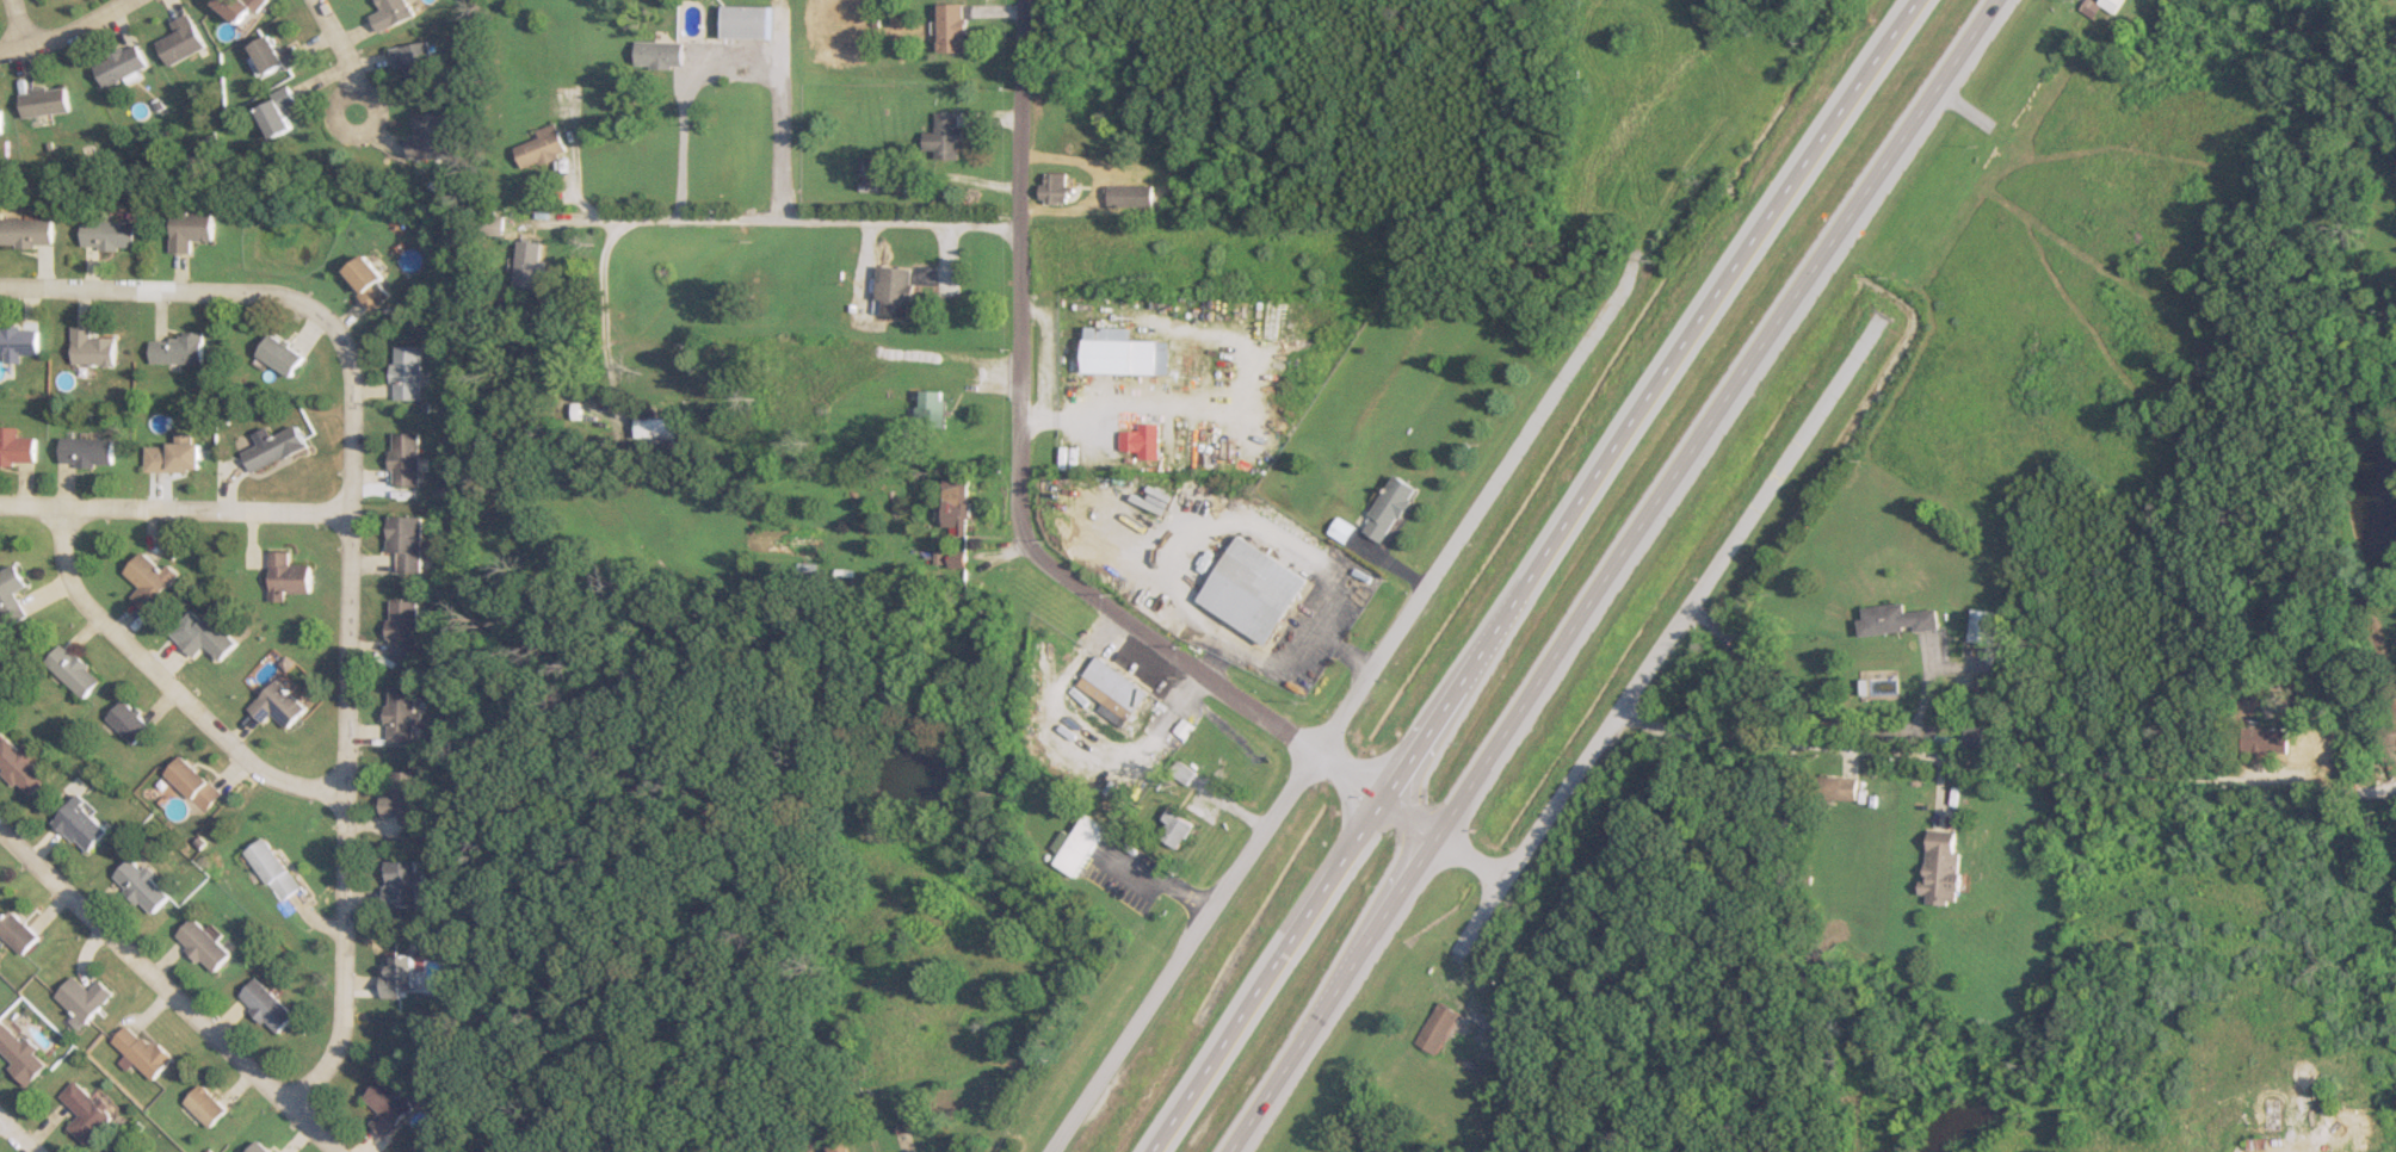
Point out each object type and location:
building: (2100, 5)
building: (242, 8)
building: (391, 13)
building: (747, 21)
road: (16, 24)
building: (952, 27)
road: (67, 33)
building: (183, 41)
building: (657, 52)
road: (340, 55)
building: (277, 56)
road: (734, 58)
building: (414, 61)
building: (122, 64)
building: (44, 101)
building: (279, 114)
building: (0, 120)
building: (427, 136)
building: (944, 136)
building: (542, 145)
building: (871, 168)
building: (1055, 188)
building: (1129, 196)
road: (811, 223)
building: (192, 229)
building: (26, 231)
building: (110, 234)
building: (529, 262)
building: (369, 279)
building: (897, 289)
road: (601, 320)
building: (18, 340)
building: (92, 346)
building: (178, 348)
building: (1129, 351)
building: (1083, 353)
building: (283, 354)
building: (407, 371)
building: (655, 428)
building: (1144, 440)
building: (17, 446)
building: (276, 447)
building: (88, 451)
building: (175, 457)
building: (406, 458)
road: (1017, 493)
road: (1477, 503)
building: (953, 507)
road: (173, 508)
building: (1389, 508)
building: (1341, 529)
road: (1736, 533)
building: (407, 541)
road: (346, 552)
road: (1531, 575)
building: (290, 576)
road: (1611, 576)
building: (152, 582)
building: (1254, 589)
building: (13, 594)
building: (1898, 619)
building: (1983, 625)
building: (406, 627)
building: (211, 638)
building: (75, 669)
road: (165, 685)
building: (1113, 690)
building: (280, 704)
building: (405, 713)
road: (1829, 718)
building: (131, 721)
building: (2267, 739)
road: (2005, 761)
building: (23, 766)
building: (1184, 774)
building: (196, 784)
building: (1842, 788)
building: (408, 798)
building: (84, 824)
building: (1175, 826)
building: (1079, 844)
road: (1514, 857)
building: (273, 868)
building: (1941, 871)
road: (1163, 878)
building: (406, 884)
building: (143, 886)
building: (19, 933)
building: (205, 944)
road: (1175, 952)
building: (400, 974)
road: (171, 989)
building: (86, 998)
building: (268, 1005)
building: (1438, 1027)
building: (143, 1049)
building: (21, 1054)
building: (208, 1104)
building: (389, 1105)
building: (87, 1113)
road: (14, 1138)
building: (135, 1147)
building: (261, 1147)
building: (836, 1147)

